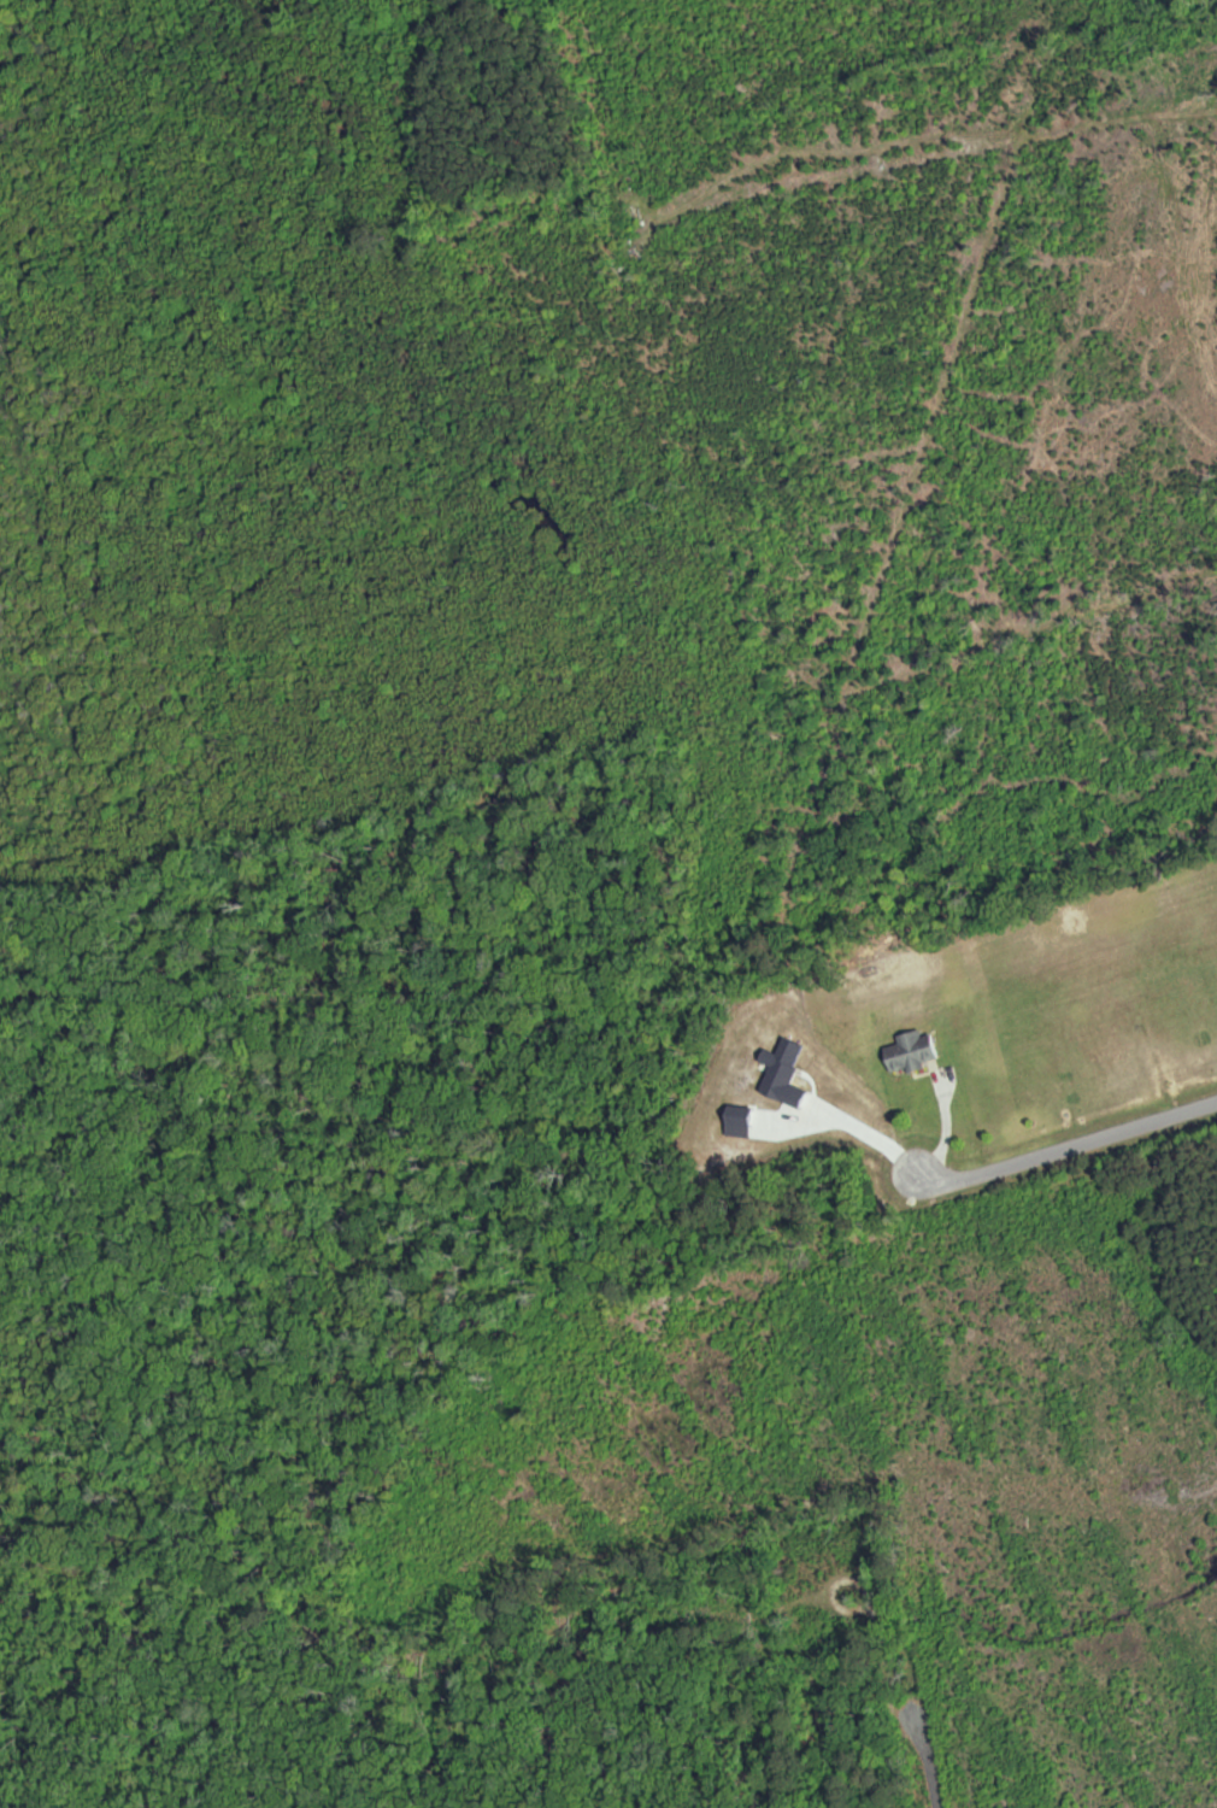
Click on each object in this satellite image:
building: (915, 1052)
road: (945, 1127)
road: (1069, 1146)

